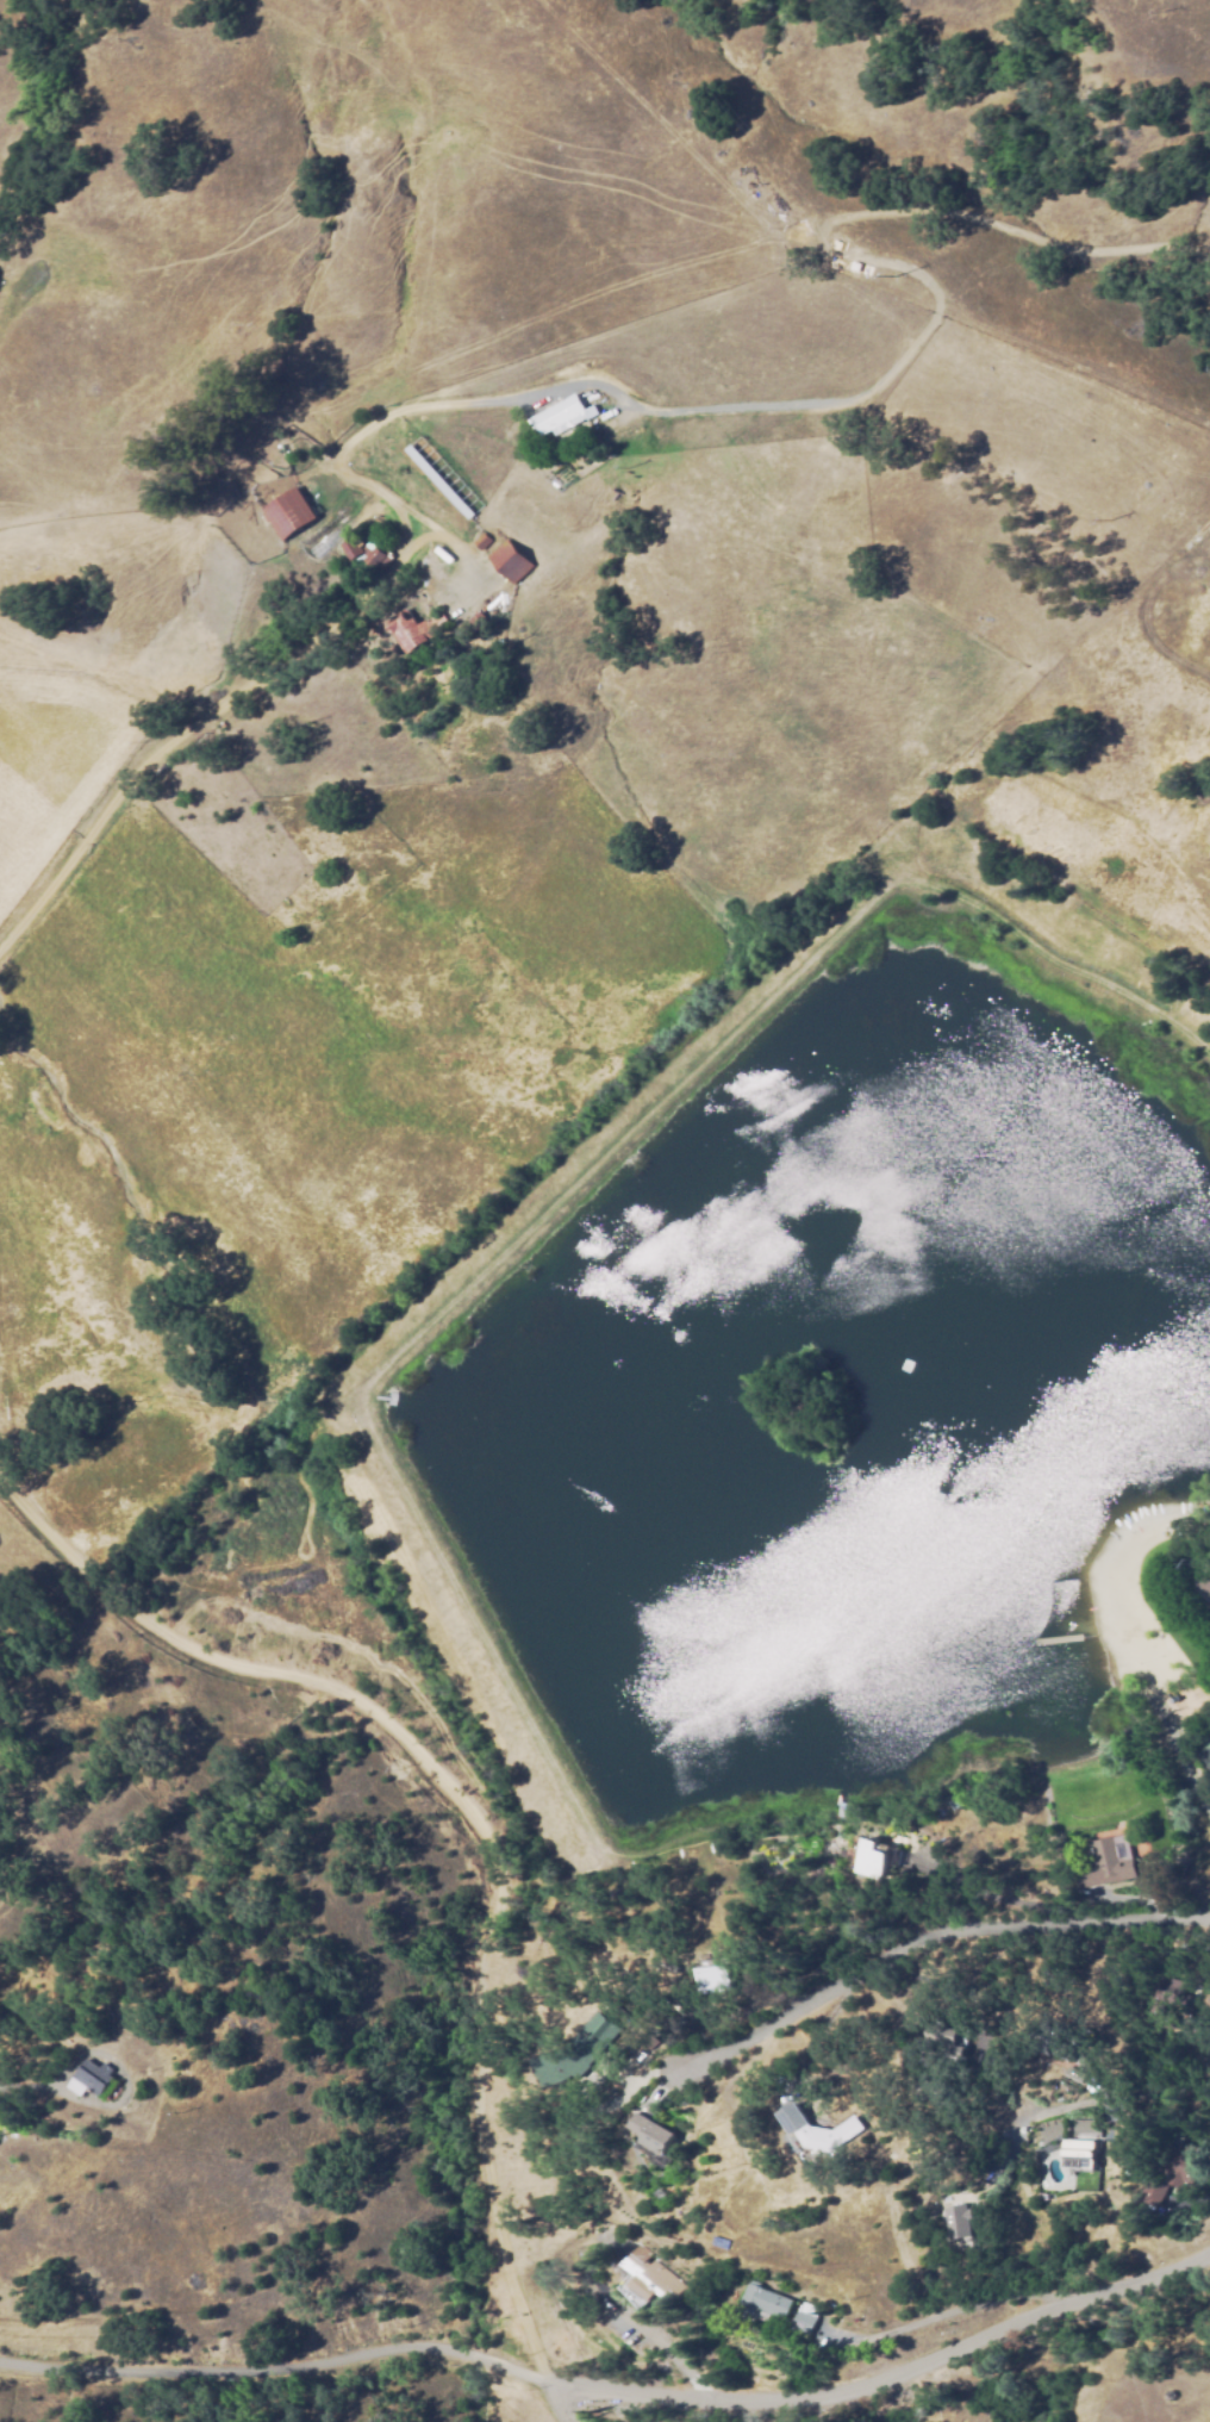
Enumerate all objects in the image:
building: (572, 415)
building: (438, 481)
building: (289, 515)
building: (482, 541)
building: (366, 558)
building: (511, 562)
building: (473, 624)
building: (414, 631)
road: (116, 782)
road: (8, 1331)
building: (1206, 1584)
road: (243, 1668)
building: (871, 1861)
building: (1106, 1863)
road: (930, 1941)
building: (716, 1981)
building: (1168, 2005)
building: (937, 2030)
building: (1055, 2035)
building: (578, 2053)
building: (1073, 2072)
building: (94, 2080)
building: (933, 2090)
building: (792, 2115)
building: (829, 2133)
building: (651, 2134)
road: (481, 2140)
building: (1079, 2154)
building: (1174, 2163)
building: (1149, 2191)
building: (959, 2222)
building: (650, 2277)
building: (763, 2302)
building: (805, 2316)
road: (615, 2390)

